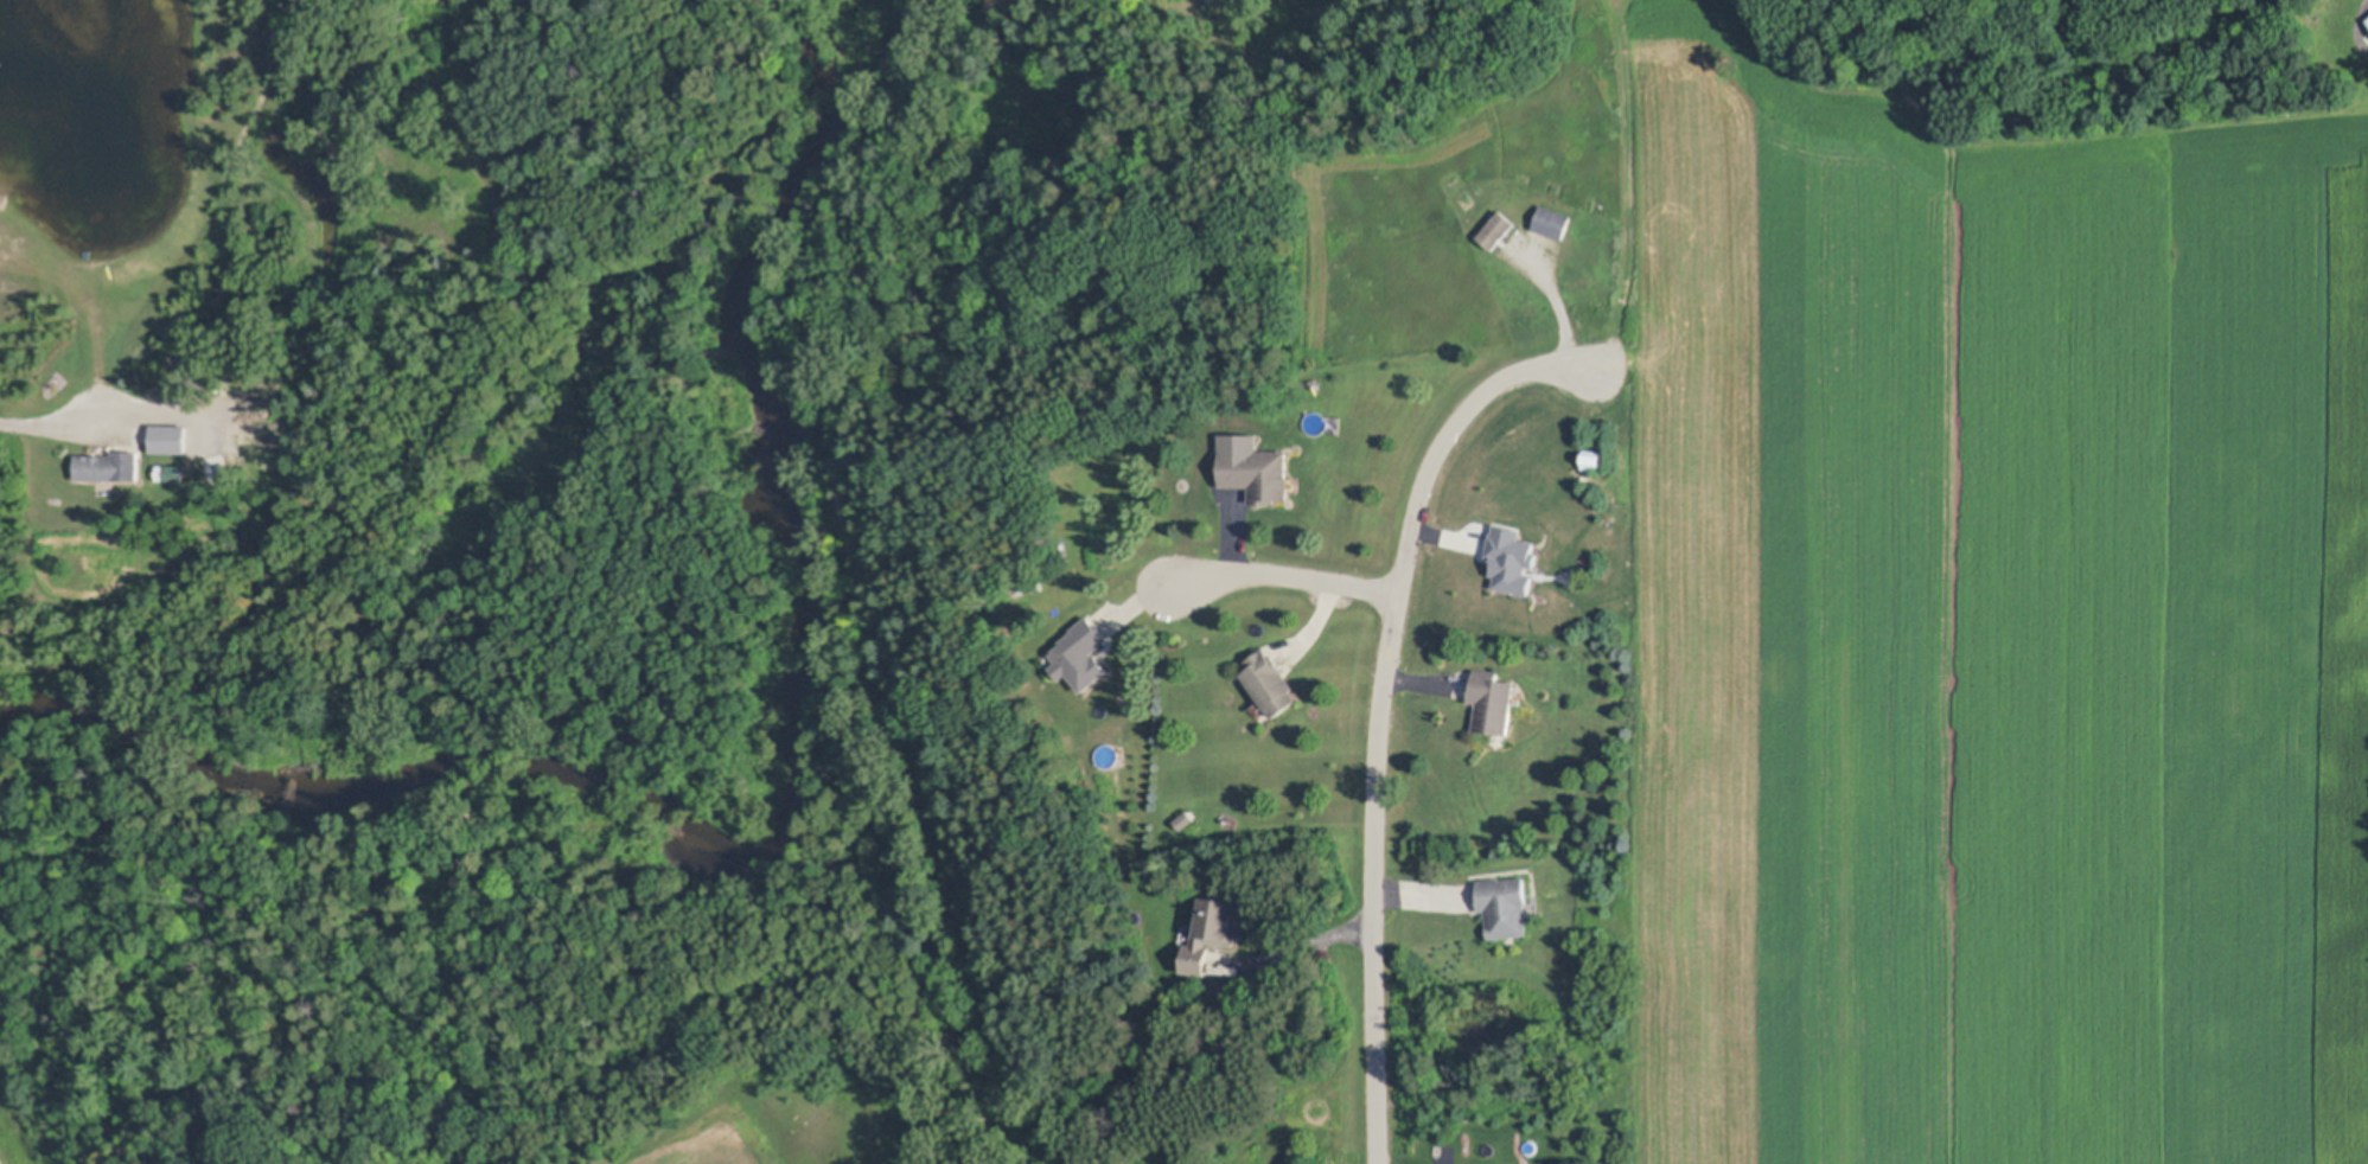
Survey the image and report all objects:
building: (2367, 21)
building: (1553, 219)
building: (1498, 229)
road: (53, 418)
building: (170, 437)
building: (109, 465)
building: (1257, 472)
building: (171, 473)
building: (1513, 559)
road: (1285, 576)
building: (1081, 652)
building: (1270, 680)
building: (1492, 702)
road: (1380, 706)
building: (1186, 818)
river: (774, 826)
building: (1506, 903)
building: (1213, 929)
building: (1227, 1006)

